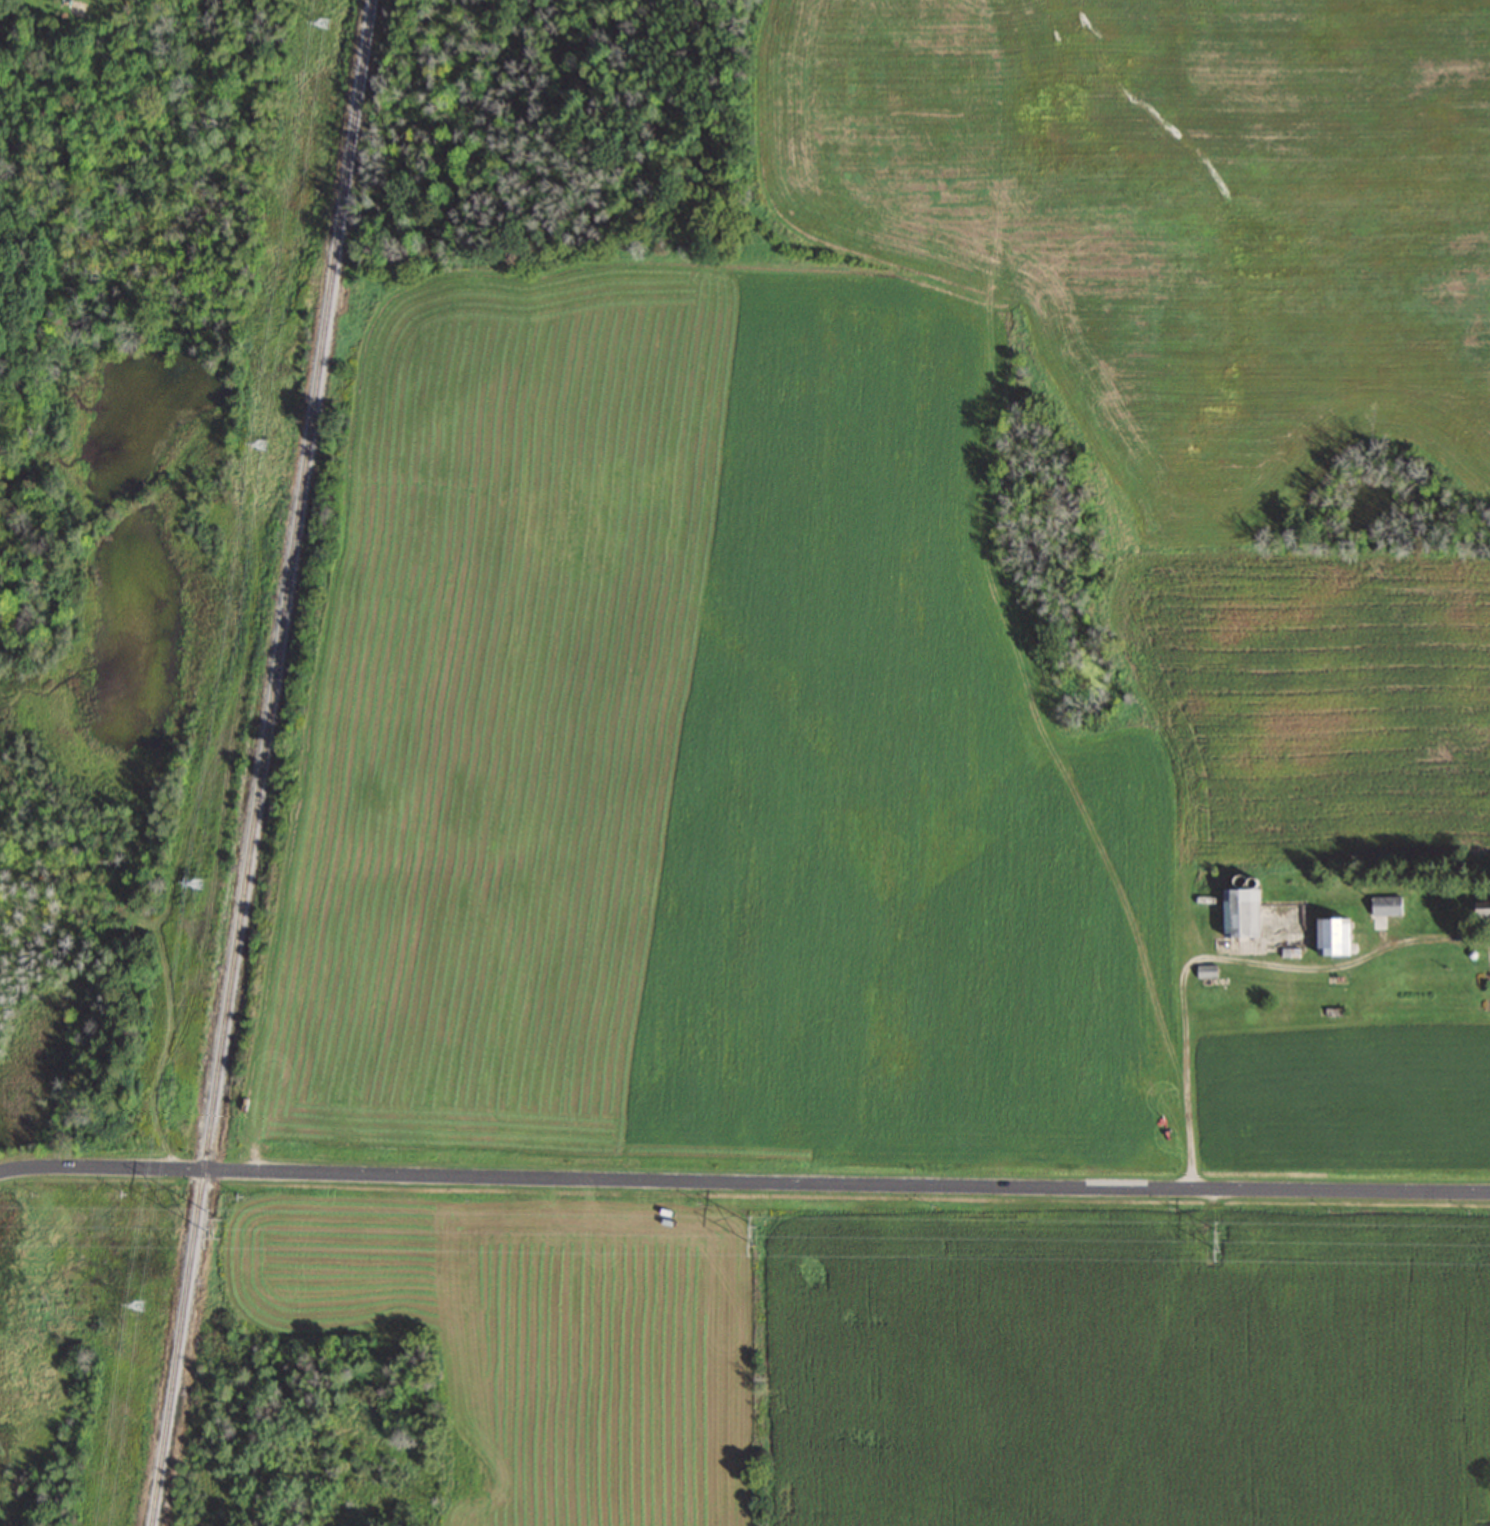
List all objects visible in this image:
railway: (269, 763)
building: (1385, 904)
building: (1479, 909)
building: (1235, 911)
building: (1328, 934)
road: (1227, 958)
road: (744, 1181)
power tower: (220, 1225)
power tower: (754, 1233)
power tower: (1216, 1239)

